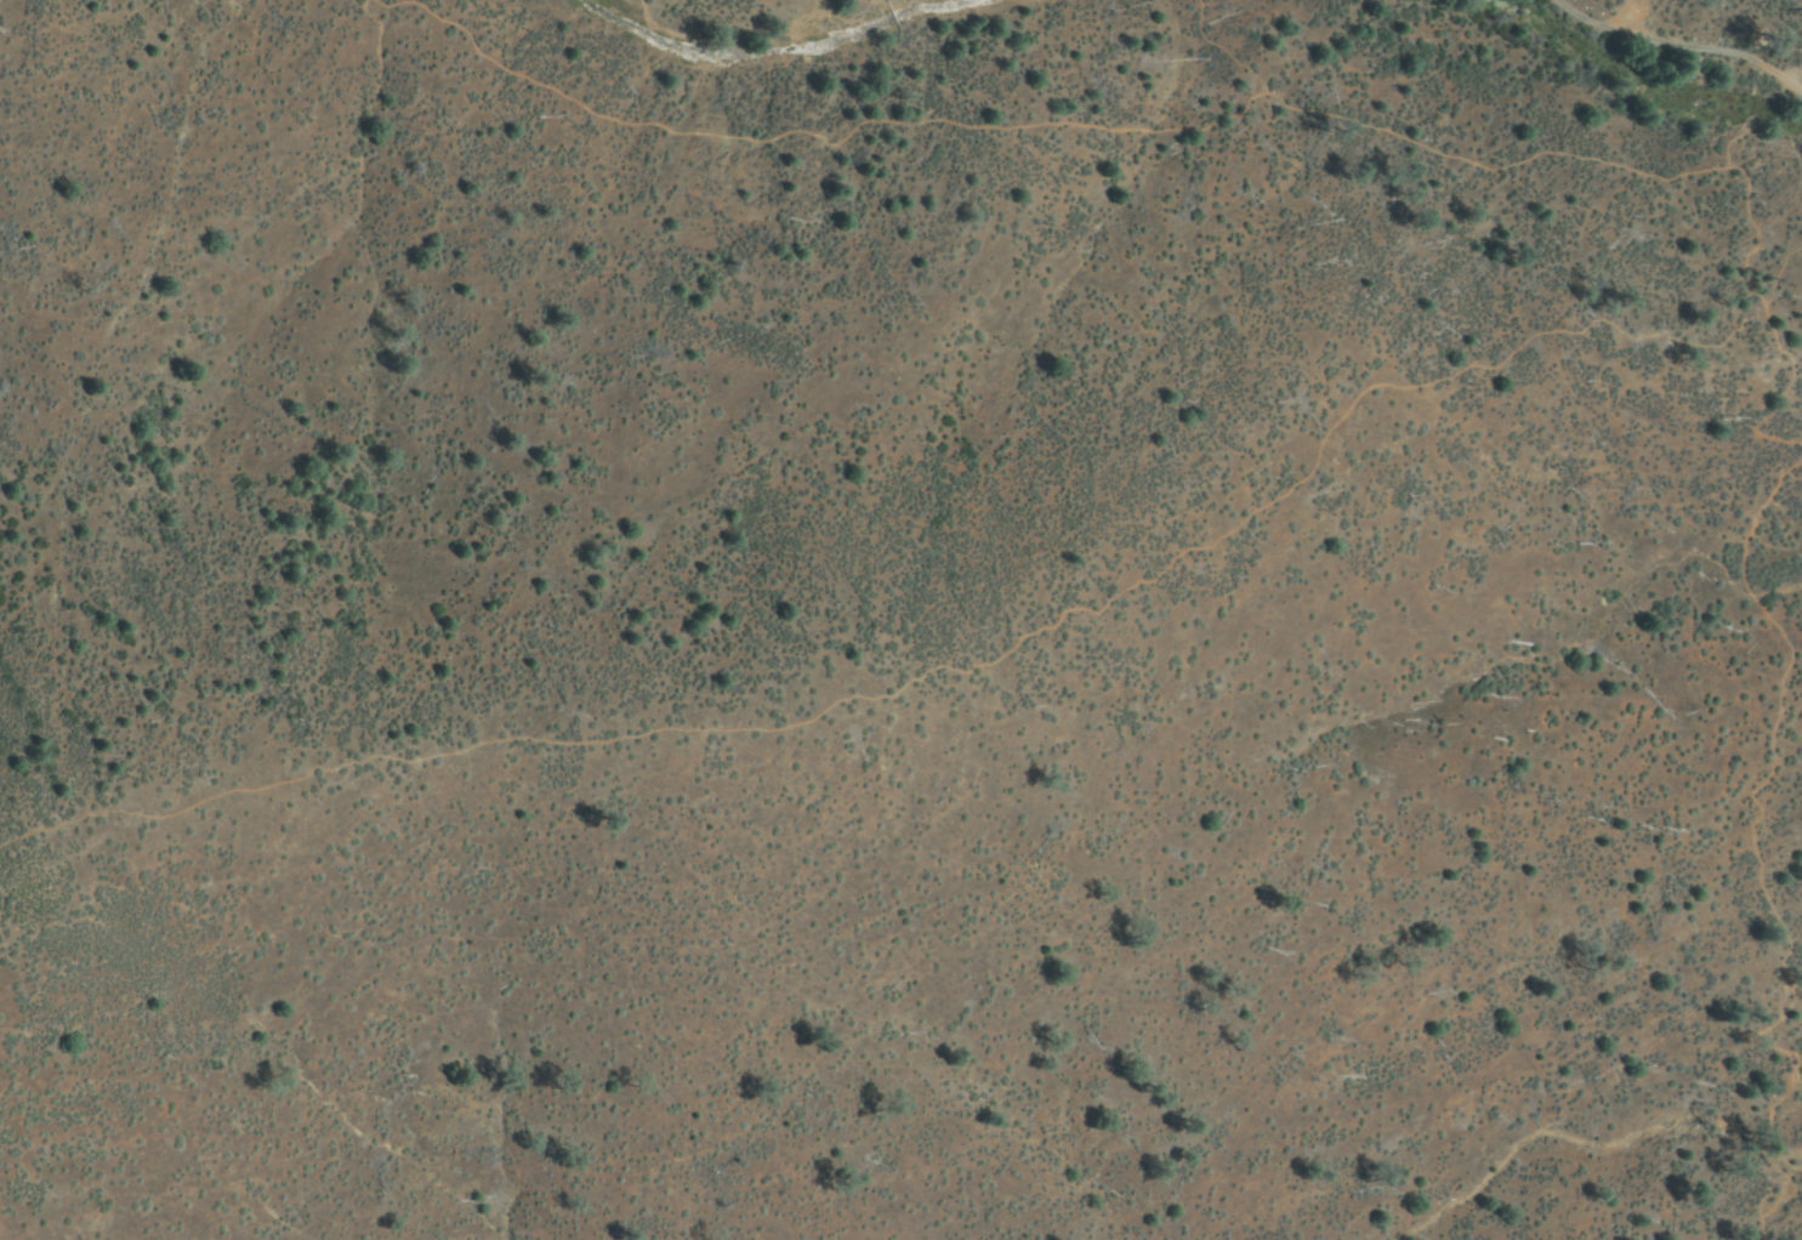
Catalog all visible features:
road: (1678, 45)
road: (1775, 438)

